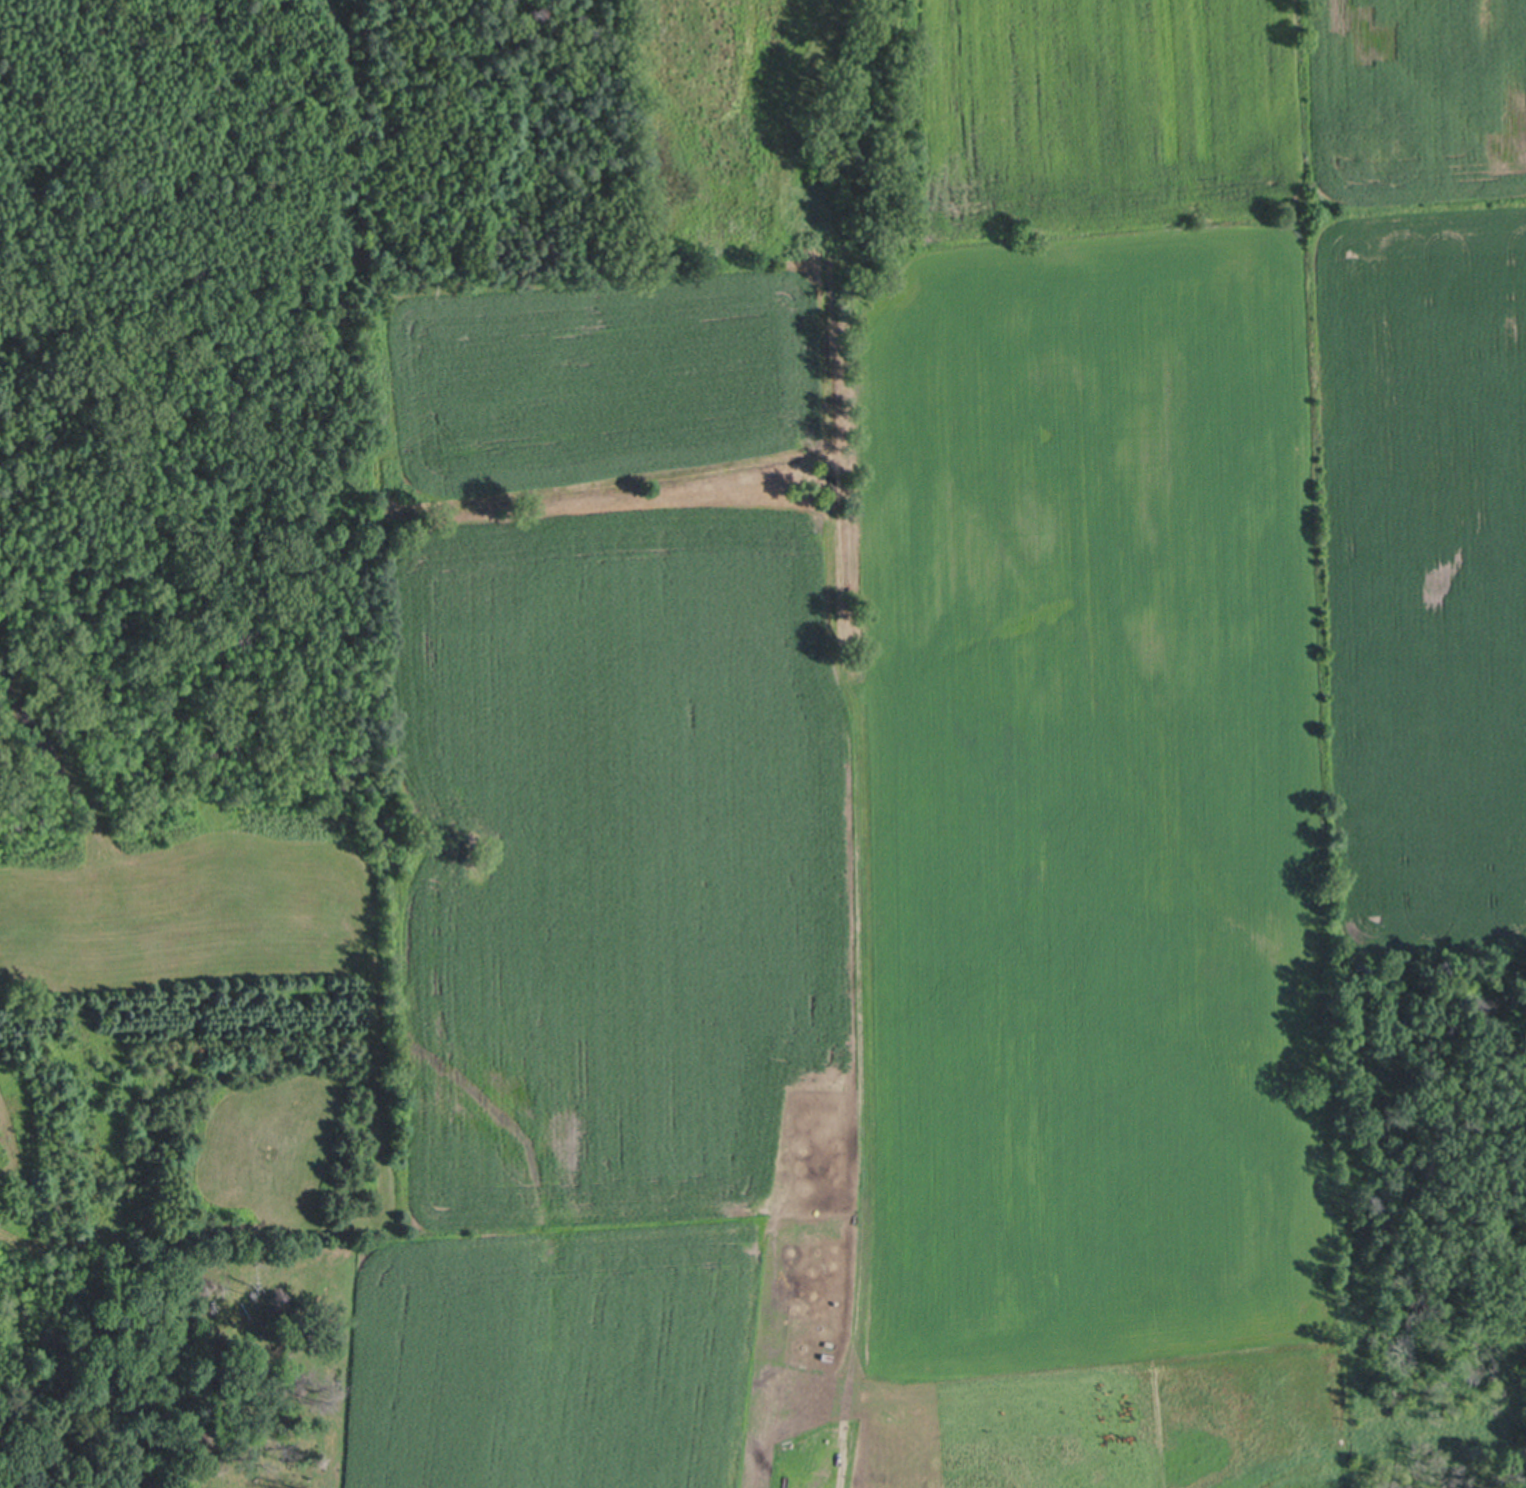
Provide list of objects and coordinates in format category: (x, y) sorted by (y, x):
crop: (970, 770)

